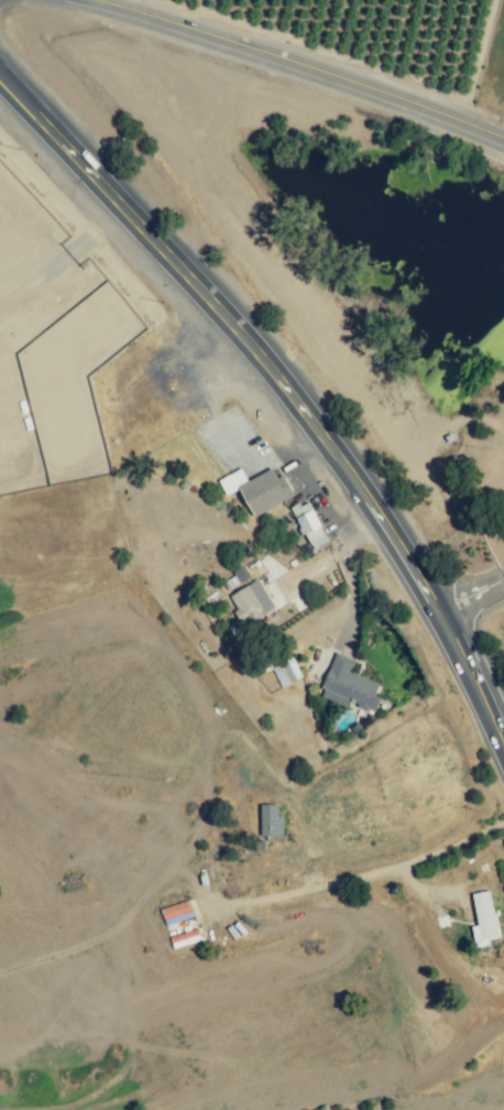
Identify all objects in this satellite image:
crop: (374, 44)
road: (295, 70)
road: (64, 257)
railway: (286, 285)
road: (280, 392)
road: (256, 465)
road: (298, 469)
building: (256, 489)
building: (308, 525)
road: (329, 556)
building: (240, 574)
road: (503, 581)
road: (465, 599)
building: (250, 601)
building: (286, 672)
building: (348, 686)
building: (271, 820)
road: (418, 857)
building: (175, 911)
building: (484, 915)

